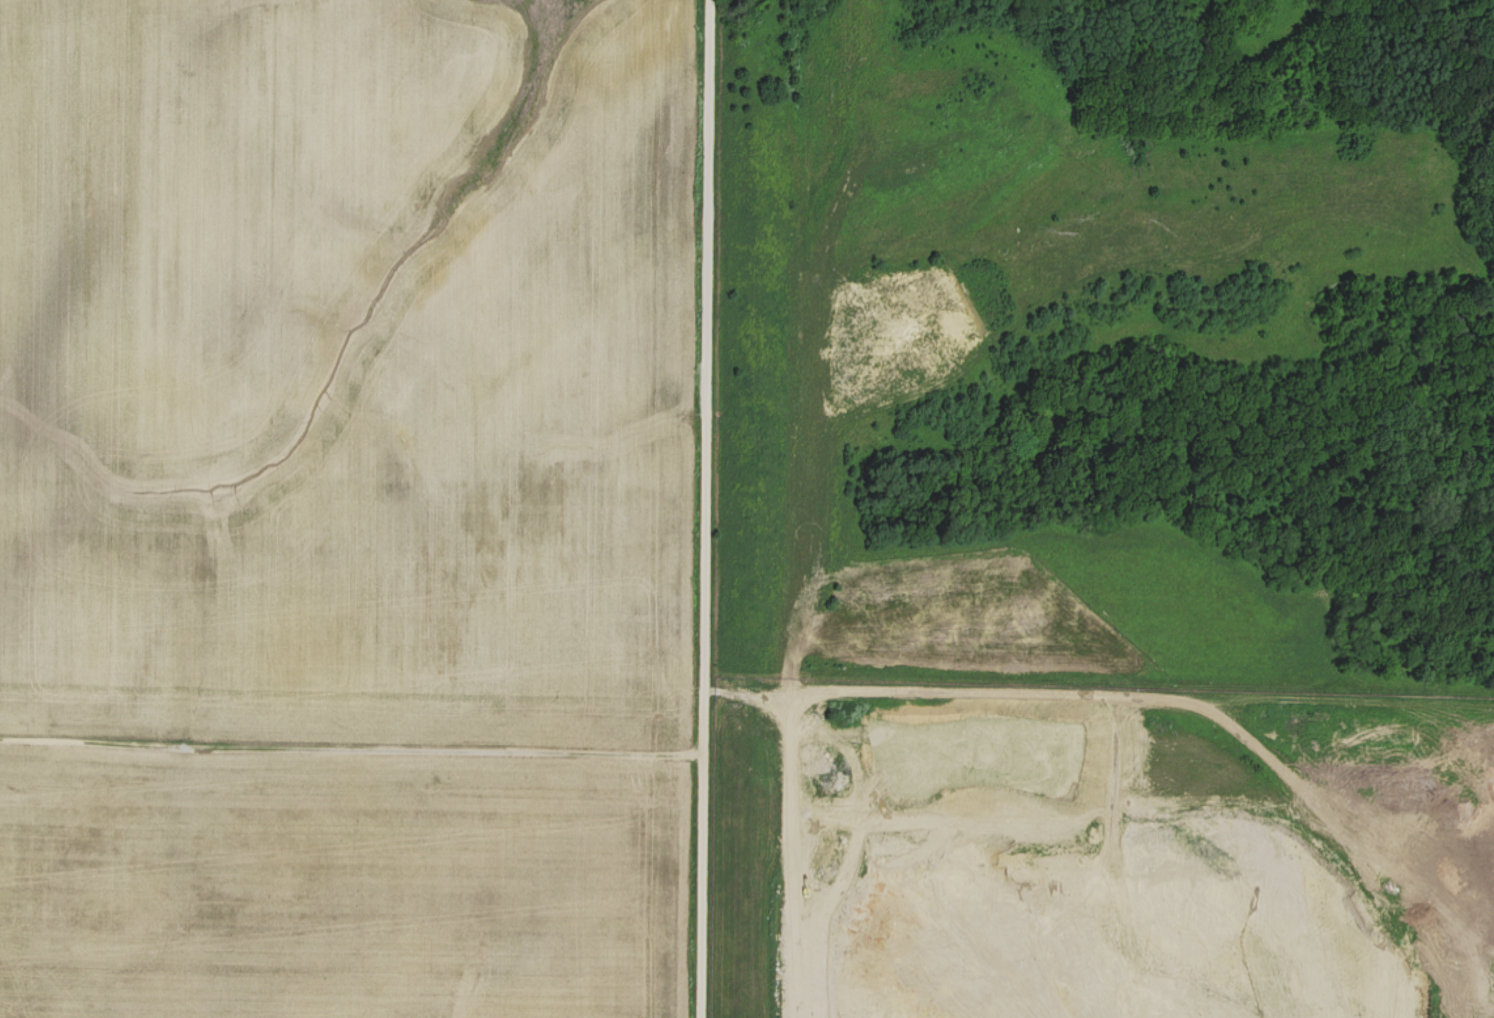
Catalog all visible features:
road: (706, 509)

